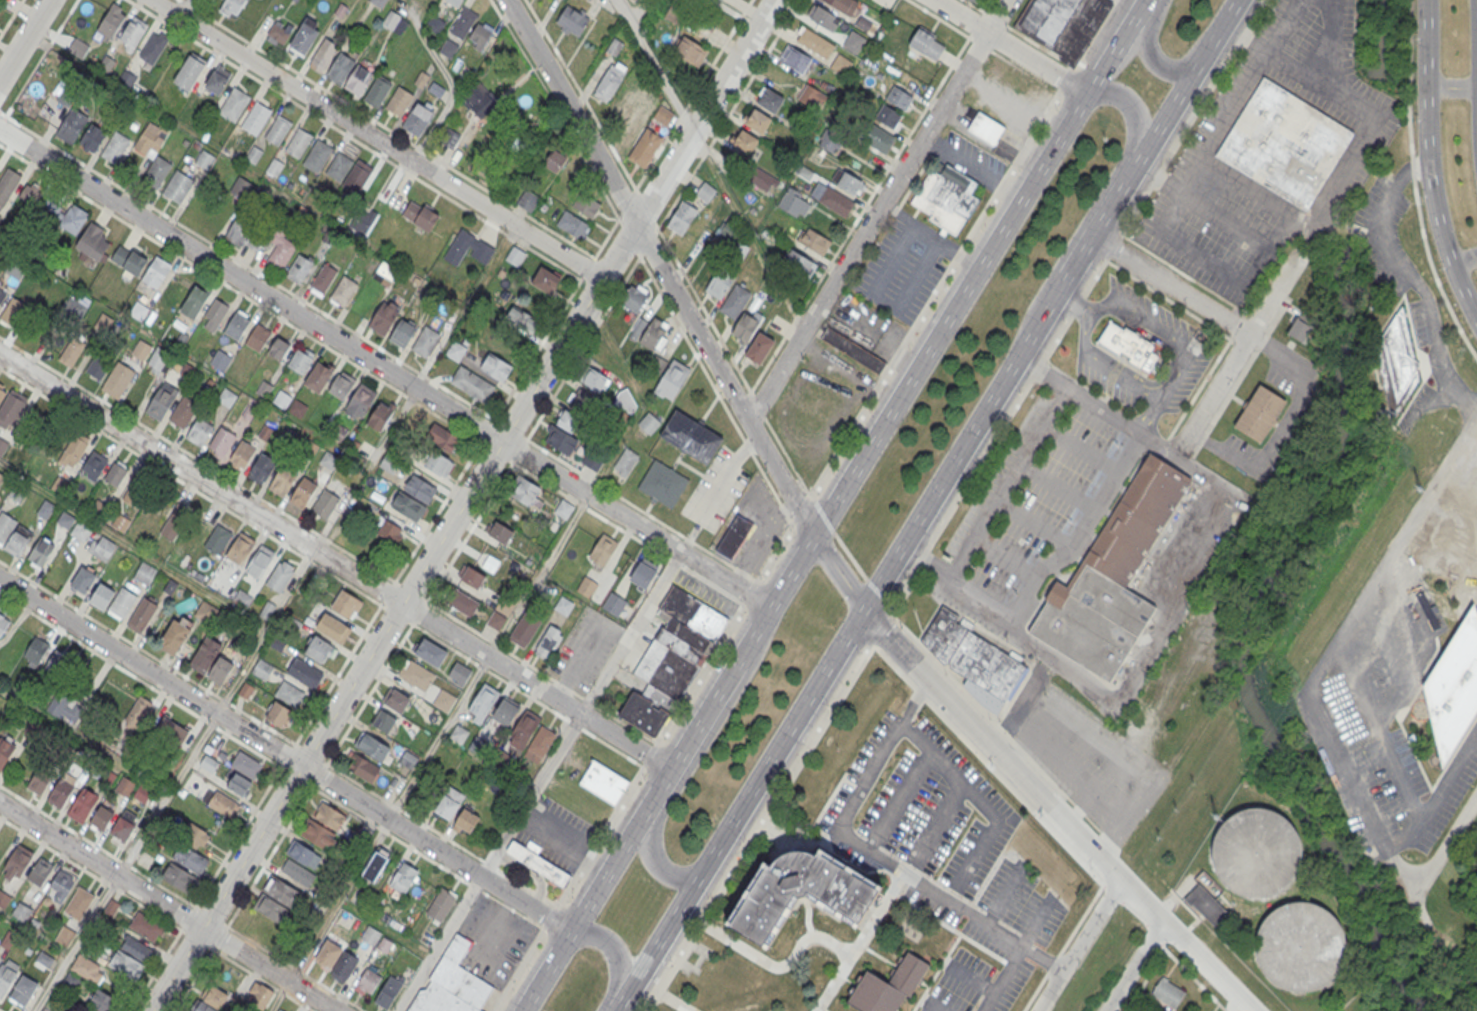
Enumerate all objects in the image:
building: (558, 0)
building: (974, 1)
building: (455, 2)
building: (843, 5)
road: (190, 6)
road: (206, 7)
building: (231, 7)
road: (186, 9)
building: (675, 15)
building: (823, 18)
building: (572, 20)
building: (112, 21)
building: (395, 22)
building: (463, 22)
building: (435, 24)
building: (863, 24)
building: (1064, 24)
road: (1011, 28)
road: (1240, 29)
road: (1220, 31)
building: (279, 32)
building: (132, 34)
building: (479, 37)
road: (23, 38)
road: (1328, 40)
river: (1380, 41)
building: (302, 42)
building: (814, 42)
building: (854, 42)
building: (927, 44)
road: (1112, 45)
road: (1007, 46)
building: (154, 47)
building: (449, 48)
building: (690, 50)
road: (1151, 52)
building: (323, 55)
road: (41, 58)
building: (794, 60)
road: (655, 65)
building: (840, 65)
building: (340, 68)
building: (189, 72)
building: (358, 80)
building: (217, 82)
building: (609, 83)
road: (1452, 88)
road: (453, 90)
building: (377, 92)
building: (650, 97)
building: (810, 97)
building: (900, 98)
building: (769, 99)
building: (479, 100)
building: (399, 101)
building: (235, 105)
road: (587, 108)
river: (1379, 110)
road: (921, 114)
building: (890, 117)
building: (256, 118)
building: (417, 120)
building: (757, 120)
building: (71, 125)
building: (985, 127)
road: (566, 128)
building: (277, 130)
road: (1426, 133)
road: (397, 135)
road: (376, 138)
building: (92, 139)
building: (640, 139)
building: (880, 139)
building: (744, 140)
building: (297, 143)
building: (1284, 143)
building: (115, 147)
road: (366, 147)
building: (154, 152)
parking lot: (1273, 152)
building: (254, 155)
building: (317, 156)
building: (203, 159)
road: (1202, 159)
building: (553, 161)
road: (1352, 162)
road: (1135, 166)
building: (275, 167)
building: (339, 167)
road: (970, 167)
road: (1152, 171)
building: (764, 180)
building: (848, 181)
road: (1415, 183)
building: (8, 184)
building: (177, 186)
building: (705, 191)
building: (30, 194)
building: (946, 196)
building: (527, 200)
building: (836, 201)
road: (1097, 202)
building: (795, 204)
building: (585, 205)
building: (51, 211)
road: (877, 211)
building: (420, 214)
road: (1218, 215)
building: (0, 217)
building: (682, 217)
building: (73, 221)
building: (573, 225)
building: (728, 229)
building: (813, 240)
building: (92, 241)
building: (468, 248)
road: (1272, 249)
building: (515, 255)
building: (280, 256)
road: (1464, 260)
building: (128, 261)
building: (799, 261)
road: (658, 266)
parking lot: (905, 266)
building: (299, 268)
building: (157, 270)
road: (261, 274)
building: (385, 274)
building: (323, 279)
road: (219, 280)
building: (545, 280)
road: (940, 282)
building: (720, 284)
road: (1170, 286)
building: (343, 291)
road: (1463, 292)
building: (2, 297)
building: (634, 298)
building: (194, 301)
building: (735, 301)
road: (1074, 303)
road: (1097, 306)
building: (141, 307)
road: (948, 311)
building: (13, 313)
building: (215, 313)
building: (383, 318)
building: (522, 320)
building: (104, 322)
building: (237, 325)
building: (745, 327)
road: (1084, 330)
building: (1299, 331)
building: (402, 332)
building: (653, 334)
building: (257, 337)
building: (425, 341)
road: (343, 344)
building: (1127, 344)
building: (759, 348)
building: (276, 349)
building: (852, 350)
building: (141, 351)
building: (455, 351)
road: (1239, 351)
building: (71, 352)
building: (157, 361)
building: (220, 361)
building: (300, 361)
building: (1396, 364)
building: (98, 365)
building: (496, 367)
road: (1169, 367)
road: (1176, 373)
building: (319, 375)
building: (594, 379)
building: (671, 379)
building: (118, 381)
building: (472, 383)
building: (342, 384)
building: (361, 397)
building: (226, 398)
building: (581, 399)
building: (281, 400)
building: (626, 401)
building: (159, 403)
road: (1099, 404)
building: (9, 409)
road: (1148, 412)
building: (182, 413)
building: (1259, 414)
building: (380, 415)
road: (1284, 422)
building: (649, 423)
building: (199, 431)
building: (691, 437)
building: (445, 438)
building: (222, 440)
road: (967, 443)
building: (73, 450)
building: (242, 453)
building: (593, 460)
building: (435, 462)
building: (624, 462)
building: (263, 466)
building: (93, 467)
building: (115, 475)
road: (726, 475)
building: (283, 478)
road: (1008, 480)
building: (662, 483)
building: (59, 485)
building: (419, 488)
building: (304, 489)
parking lot: (716, 489)
power tower: (1417, 489)
building: (136, 491)
building: (524, 493)
building: (325, 503)
road: (462, 505)
building: (408, 506)
building: (99, 509)
building: (45, 510)
building: (563, 510)
building: (65, 520)
building: (120, 522)
building: (175, 523)
building: (6, 527)
building: (81, 531)
building: (499, 532)
building: (389, 533)
building: (734, 536)
building: (218, 540)
building: (18, 543)
building: (101, 547)
building: (240, 551)
building: (602, 551)
building: (41, 552)
road: (1393, 552)
building: (259, 562)
road: (335, 563)
building: (145, 573)
road: (838, 574)
building: (643, 576)
building: (1111, 576)
building: (280, 577)
building: (472, 577)
road: (71, 579)
building: (82, 581)
road: (1041, 581)
road: (728, 582)
river: (1259, 585)
building: (587, 588)
building: (101, 596)
road: (1409, 596)
building: (462, 603)
building: (122, 604)
building: (346, 604)
building: (563, 606)
building: (206, 612)
building: (693, 613)
building: (142, 616)
building: (495, 621)
building: (3, 623)
building: (332, 627)
building: (525, 629)
road: (1166, 631)
building: (690, 634)
building: (175, 636)
road: (1383, 642)
building: (549, 643)
building: (683, 646)
building: (318, 649)
building: (35, 651)
road: (742, 651)
building: (430, 653)
building: (972, 658)
building: (210, 661)
building: (56, 664)
building: (664, 669)
building: (262, 671)
building: (305, 673)
road: (899, 673)
building: (459, 674)
building: (415, 675)
road: (1405, 681)
building: (1454, 687)
building: (244, 692)
building: (289, 694)
building: (659, 697)
building: (396, 699)
building: (444, 700)
building: (483, 703)
building: (61, 709)
building: (645, 712)
building: (278, 713)
building: (505, 713)
building: (137, 714)
parking lot: (1336, 714)
building: (384, 720)
building: (523, 730)
road: (1380, 730)
building: (171, 732)
building: (459, 735)
road: (437, 739)
building: (540, 744)
road: (782, 744)
building: (372, 746)
building: (5, 751)
road: (283, 756)
parking lot: (1085, 756)
road: (1346, 762)
building: (209, 763)
road: (690, 763)
building: (246, 764)
building: (364, 768)
building: (608, 774)
building: (39, 780)
road: (541, 781)
building: (239, 784)
road: (1444, 785)
building: (124, 787)
building: (59, 792)
building: (142, 794)
road: (899, 798)
parking lot: (1447, 799)
road: (979, 800)
building: (221, 802)
building: (83, 805)
building: (449, 805)
road: (1056, 813)
building: (102, 816)
power tower: (1215, 818)
building: (466, 822)
building: (324, 826)
building: (123, 829)
parking lot: (555, 834)
building: (197, 835)
road: (565, 840)
road: (1400, 841)
road: (1443, 848)
road: (619, 850)
road: (877, 852)
storage tank: (1255, 852)
building: (304, 854)
parking lot: (944, 854)
building: (1252, 854)
building: (189, 859)
road: (1399, 863)
building: (17, 864)
building: (376, 865)
building: (537, 865)
building: (297, 872)
building: (40, 873)
building: (403, 877)
building: (178, 878)
building: (61, 888)
building: (800, 895)
building: (276, 900)
building: (441, 903)
building: (79, 904)
building: (1206, 905)
road: (167, 907)
building: (111, 909)
building: (146, 928)
road: (497, 929)
building: (65, 937)
building: (376, 939)
road: (659, 942)
road: (76, 943)
road: (1079, 945)
storage tank: (1300, 947)
building: (1301, 948)
road: (615, 955)
building: (130, 958)
building: (45, 959)
building: (336, 959)
road: (1133, 966)
road: (543, 971)
building: (84, 972)
building: (460, 975)
building: (5, 977)
road: (974, 978)
road: (1006, 979)
building: (367, 982)
building: (889, 986)
building: (23, 990)
building: (388, 992)
building: (1168, 993)
building: (259, 996)
building: (211, 1000)
building: (438, 1000)
building: (101, 1002)
road: (932, 1007)
building: (45, 1010)
building: (278, 1010)

